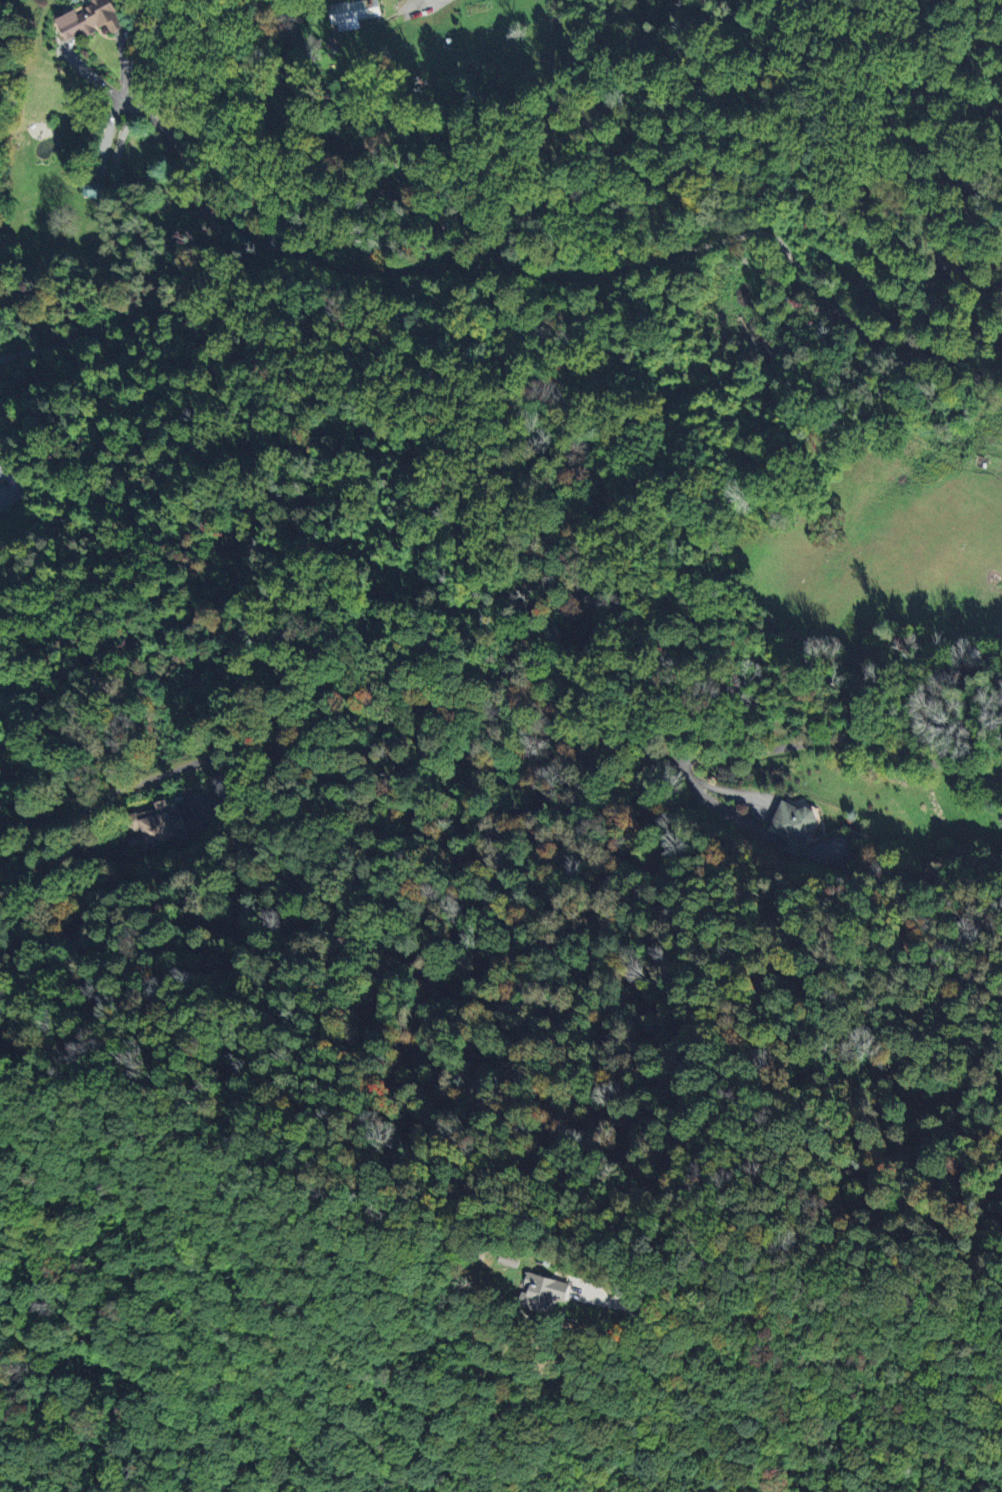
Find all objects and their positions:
road: (428, 1)
building: (353, 13)
building: (92, 19)
road: (94, 78)
road: (168, 132)
building: (95, 189)
road: (497, 271)
road: (259, 759)
road: (665, 762)
building: (162, 825)
building: (793, 826)
building: (638, 1292)
building: (554, 1293)
road: (803, 1305)

